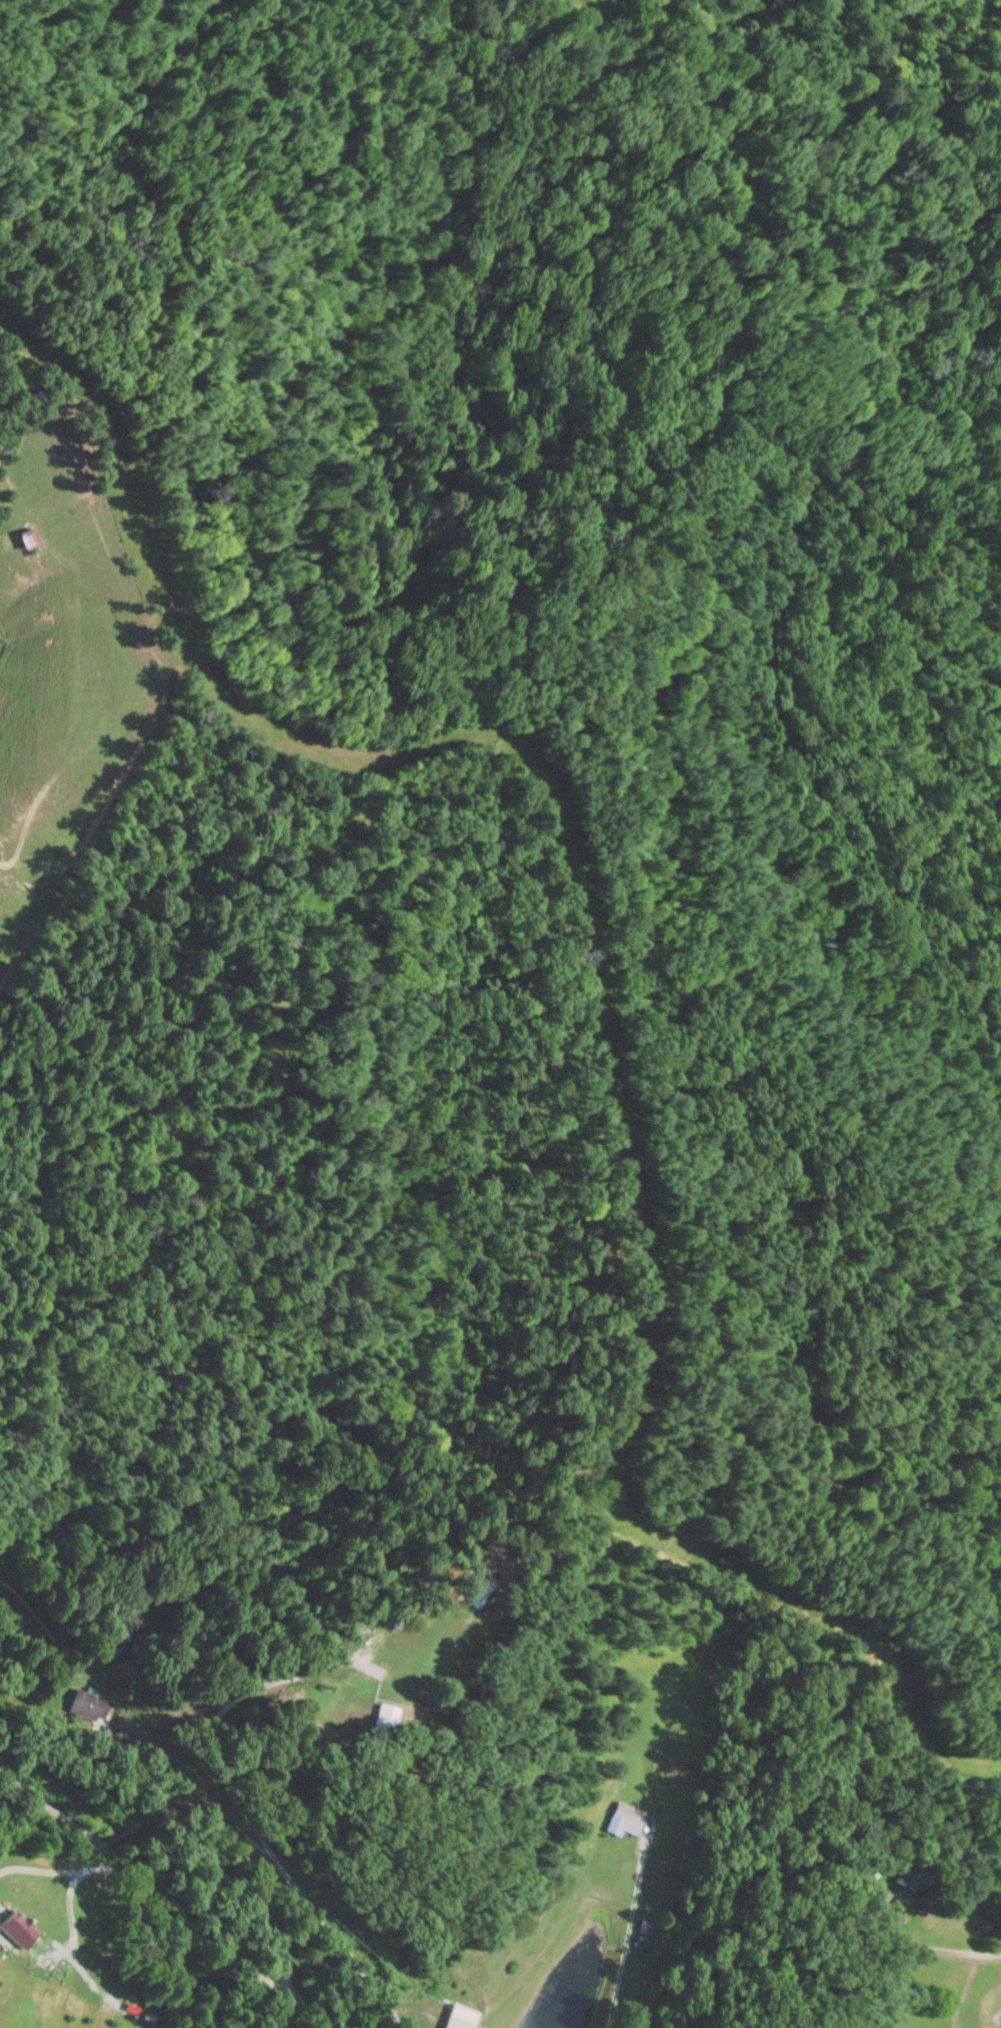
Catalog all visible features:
building: (32, 539)
road: (273, 1309)
road: (417, 1419)
road: (139, 1463)
road: (251, 1634)
building: (88, 1705)
building: (627, 1819)
road: (167, 1866)
building: (20, 1929)
building: (644, 1930)
building: (126, 2008)
building: (466, 2017)
road: (154, 2025)

